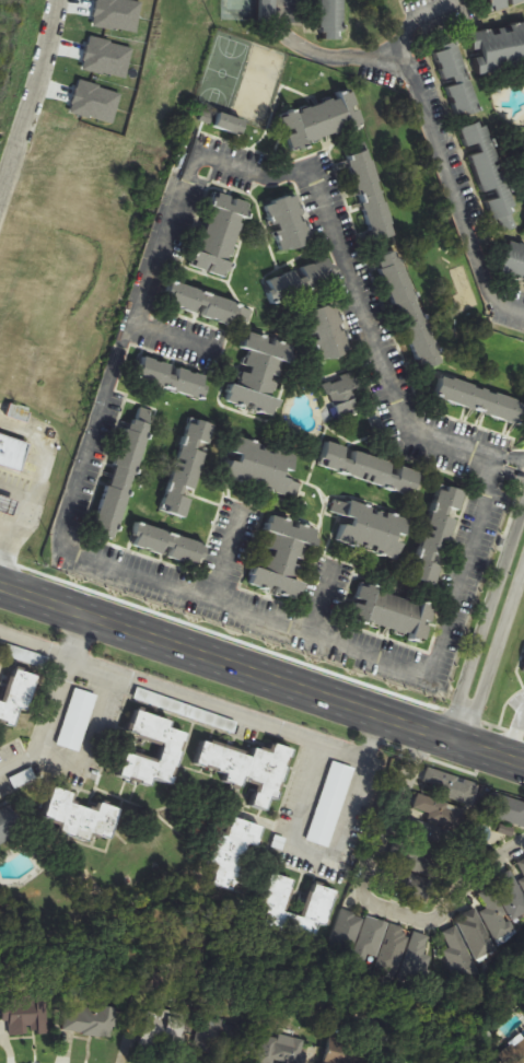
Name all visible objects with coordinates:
building: (503, 3)
building: (333, 20)
road: (415, 21)
building: (498, 47)
building: (456, 80)
road: (32, 101)
building: (322, 119)
road: (423, 120)
building: (230, 124)
building: (490, 176)
building: (371, 197)
building: (289, 223)
building: (221, 235)
building: (513, 259)
building: (302, 280)
building: (206, 304)
building: (409, 309)
road: (167, 331)
building: (328, 331)
building: (260, 374)
building: (171, 377)
building: (343, 397)
building: (480, 399)
road: (98, 408)
building: (12, 452)
road: (514, 463)
building: (188, 467)
building: (261, 467)
building: (369, 468)
road: (39, 469)
building: (123, 476)
road: (15, 493)
building: (7, 504)
building: (369, 528)
building: (438, 534)
building: (171, 545)
road: (5, 546)
road: (224, 556)
building: (284, 557)
road: (318, 599)
building: (392, 612)
road: (489, 638)
road: (34, 644)
road: (260, 677)
building: (16, 696)
road: (53, 704)
road: (233, 712)
building: (77, 721)
road: (89, 734)
road: (515, 736)
building: (173, 748)
building: (248, 770)
building: (450, 786)
building: (330, 804)
building: (505, 810)
building: (440, 813)
building: (81, 817)
building: (9, 823)
building: (240, 843)
building: (427, 850)
road: (312, 854)
building: (521, 869)
building: (276, 900)
road: (374, 900)
building: (503, 902)
building: (347, 932)
building: (477, 935)
building: (371, 941)
building: (394, 949)
building: (459, 956)
building: (417, 958)
building: (27, 1015)
building: (90, 1020)
building: (218, 1038)
building: (164, 1039)
building: (286, 1050)
building: (352, 1050)

